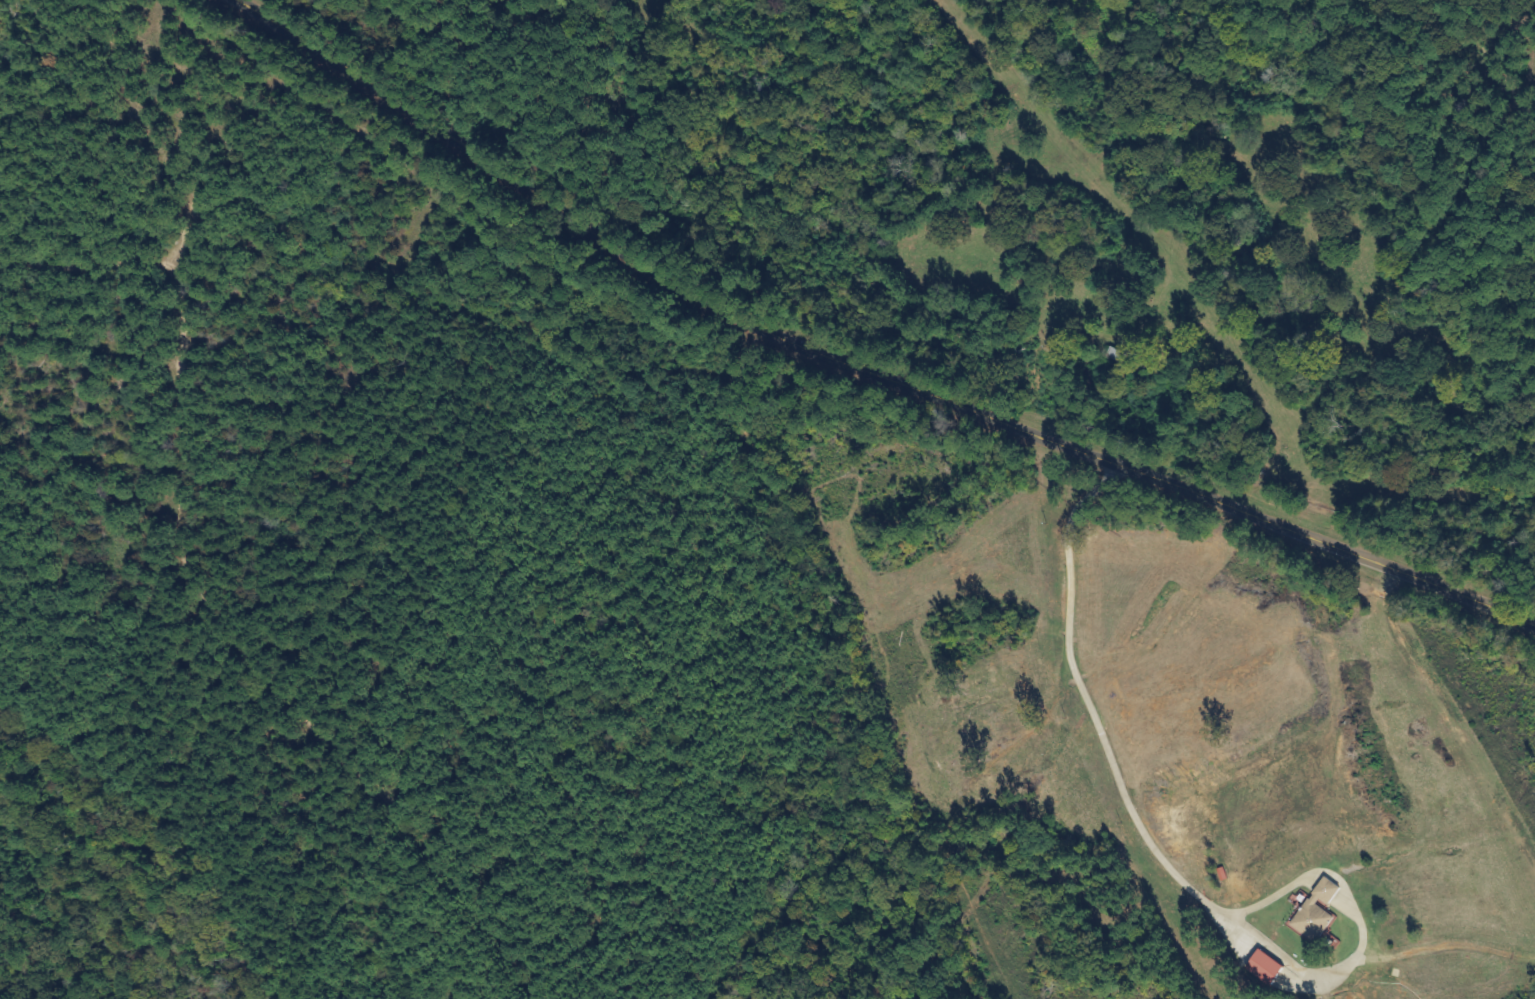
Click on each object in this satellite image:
road: (853, 371)
building: (1319, 912)
building: (1268, 968)

